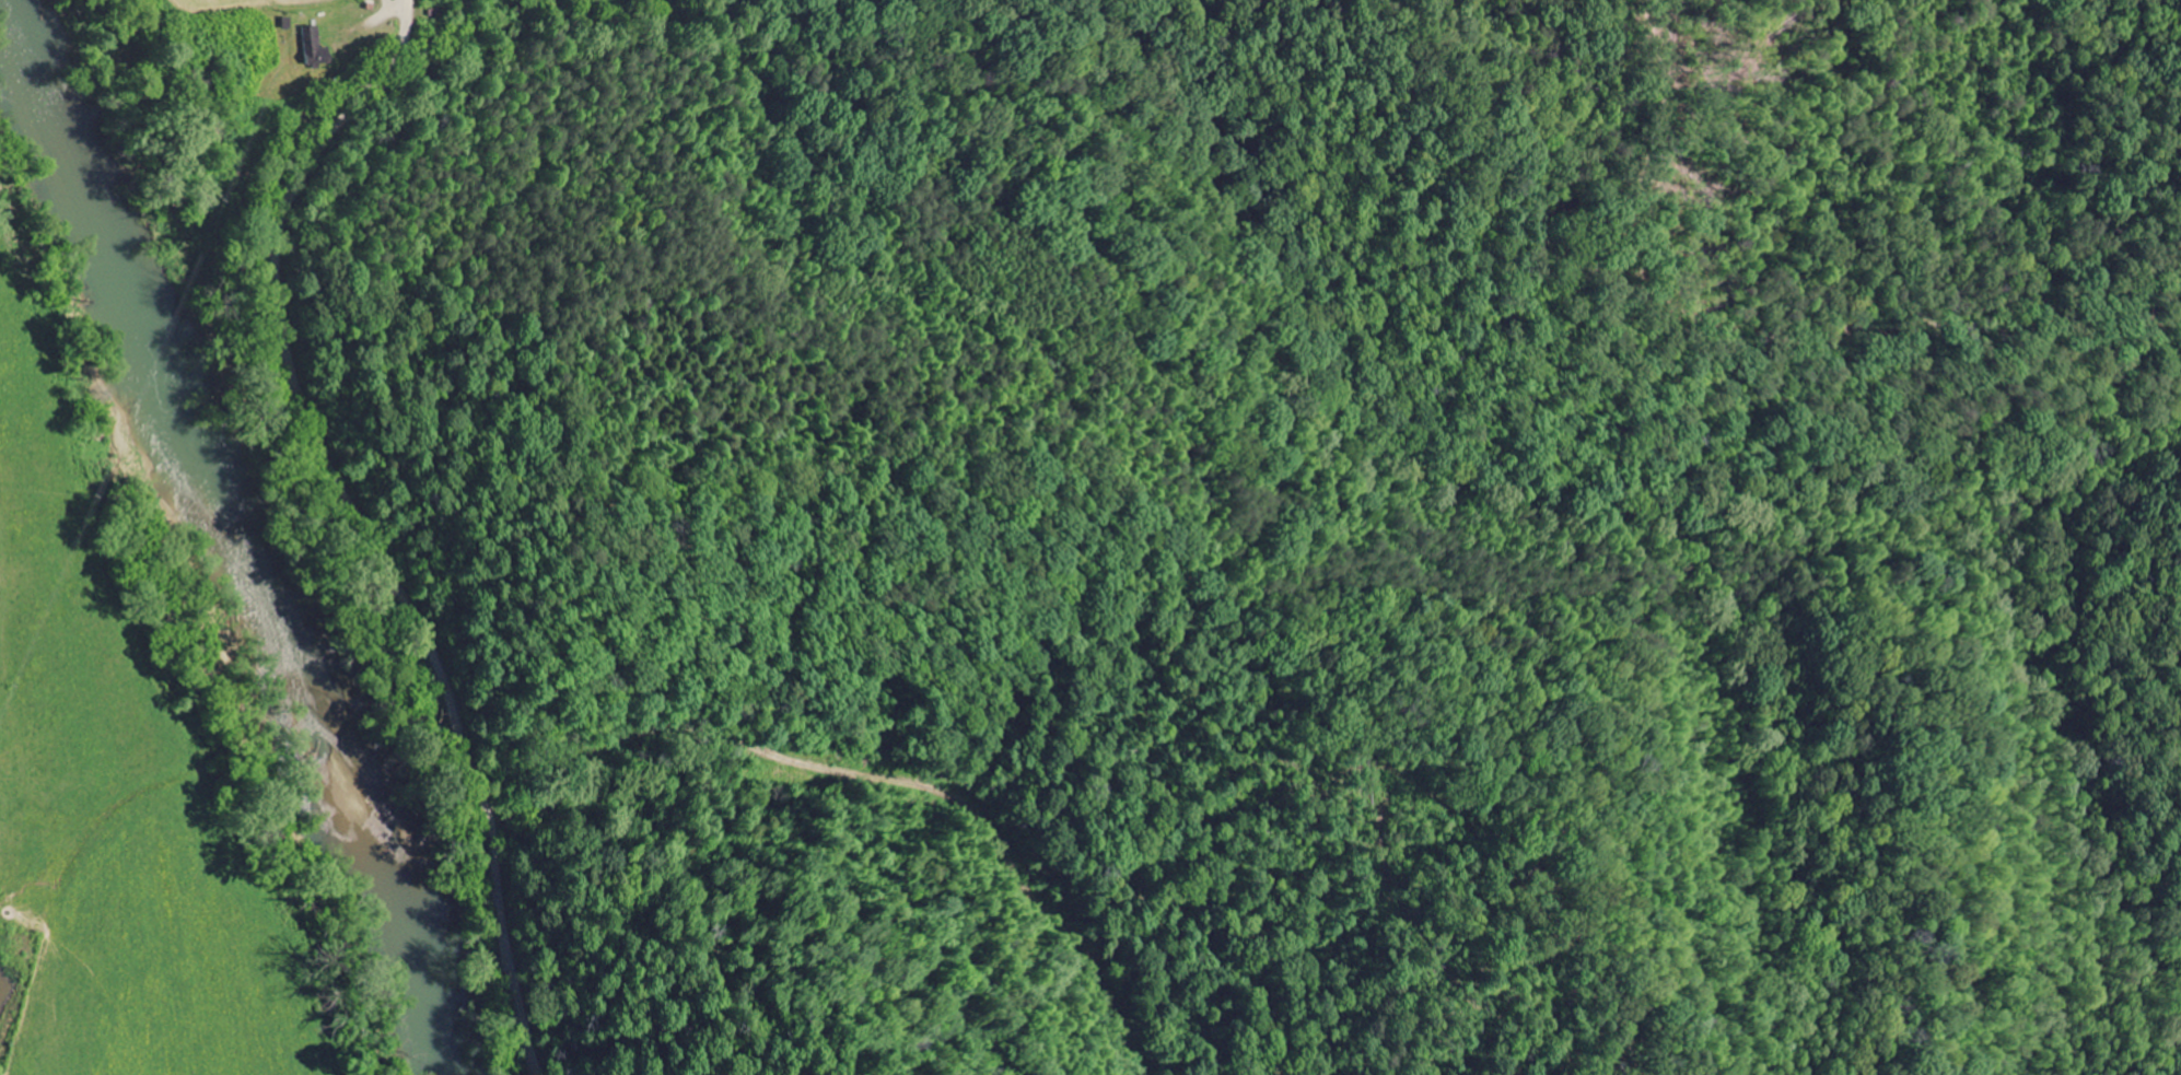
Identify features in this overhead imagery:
building: (311, 45)
road: (365, 523)
river: (222, 539)

